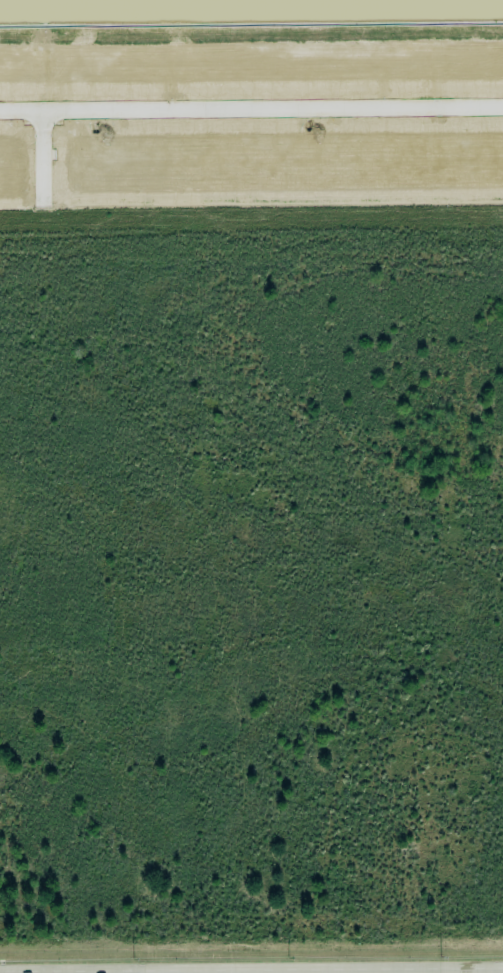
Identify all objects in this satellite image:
road: (251, 105)
road: (267, 968)
road: (15, 970)

